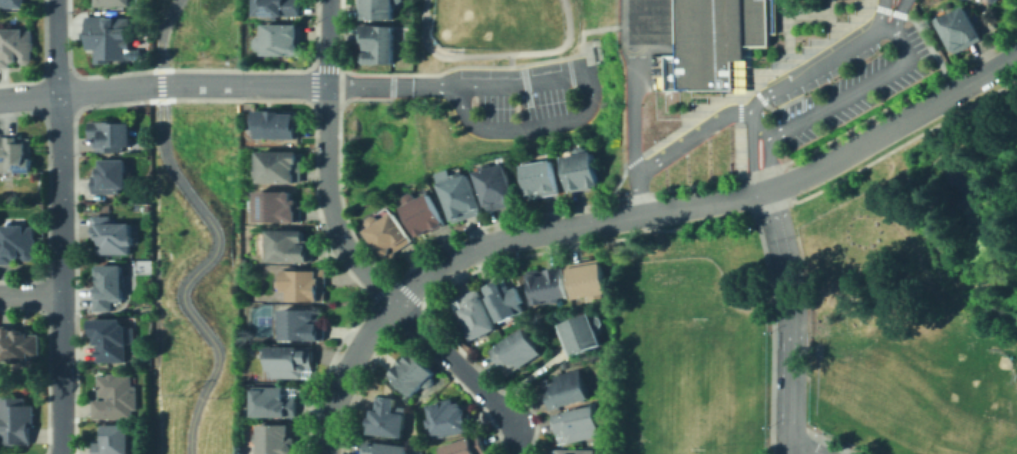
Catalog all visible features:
building: (990, 0)
road: (869, 2)
parking lot: (907, 2)
building: (113, 3)
building: (13, 4)
building: (281, 7)
road: (786, 7)
road: (880, 7)
building: (376, 9)
road: (622, 12)
road: (171, 13)
road: (899, 13)
building: (769, 15)
road: (877, 17)
park: (653, 19)
building: (654, 21)
park: (497, 23)
road: (829, 25)
road: (889, 28)
park: (194, 32)
building: (960, 32)
building: (112, 38)
building: (716, 38)
building: (281, 40)
road: (670, 44)
road: (162, 45)
building: (375, 46)
building: (17, 48)
road: (624, 48)
road: (496, 54)
road: (510, 59)
road: (464, 65)
road: (569, 74)
road: (738, 75)
building: (740, 75)
parking lot: (844, 76)
road: (524, 79)
building: (659, 82)
road: (162, 83)
road: (384, 85)
road: (811, 88)
road: (731, 94)
parking lot: (520, 105)
road: (588, 106)
road: (633, 116)
building: (275, 117)
road: (762, 129)
building: (111, 130)
road: (738, 143)
road: (676, 147)
building: (16, 156)
building: (283, 158)
building: (110, 170)
building: (581, 172)
building: (539, 180)
building: (495, 187)
park: (970, 195)
building: (278, 198)
building: (458, 198)
road: (628, 215)
building: (420, 216)
road: (59, 226)
building: (113, 230)
building: (385, 236)
building: (289, 238)
building: (18, 245)
road: (914, 253)
road: (353, 256)
road: (208, 260)
building: (586, 275)
park: (192, 277)
building: (306, 278)
building: (546, 280)
building: (107, 282)
road: (30, 292)
building: (501, 294)
building: (473, 311)
building: (301, 316)
park: (260, 317)
road: (791, 320)
building: (577, 327)
building: (109, 334)
building: (19, 338)
building: (514, 343)
building: (289, 355)
road: (155, 357)
building: (410, 368)
park: (698, 382)
building: (566, 384)
building: (114, 393)
building: (273, 396)
park: (939, 396)
park: (876, 402)
building: (383, 413)
building: (445, 413)
building: (19, 416)
building: (576, 418)
park: (950, 432)
building: (274, 434)
building: (113, 437)
road: (773, 437)
road: (817, 440)
building: (463, 443)
building: (382, 445)
road: (807, 445)
building: (574, 449)

